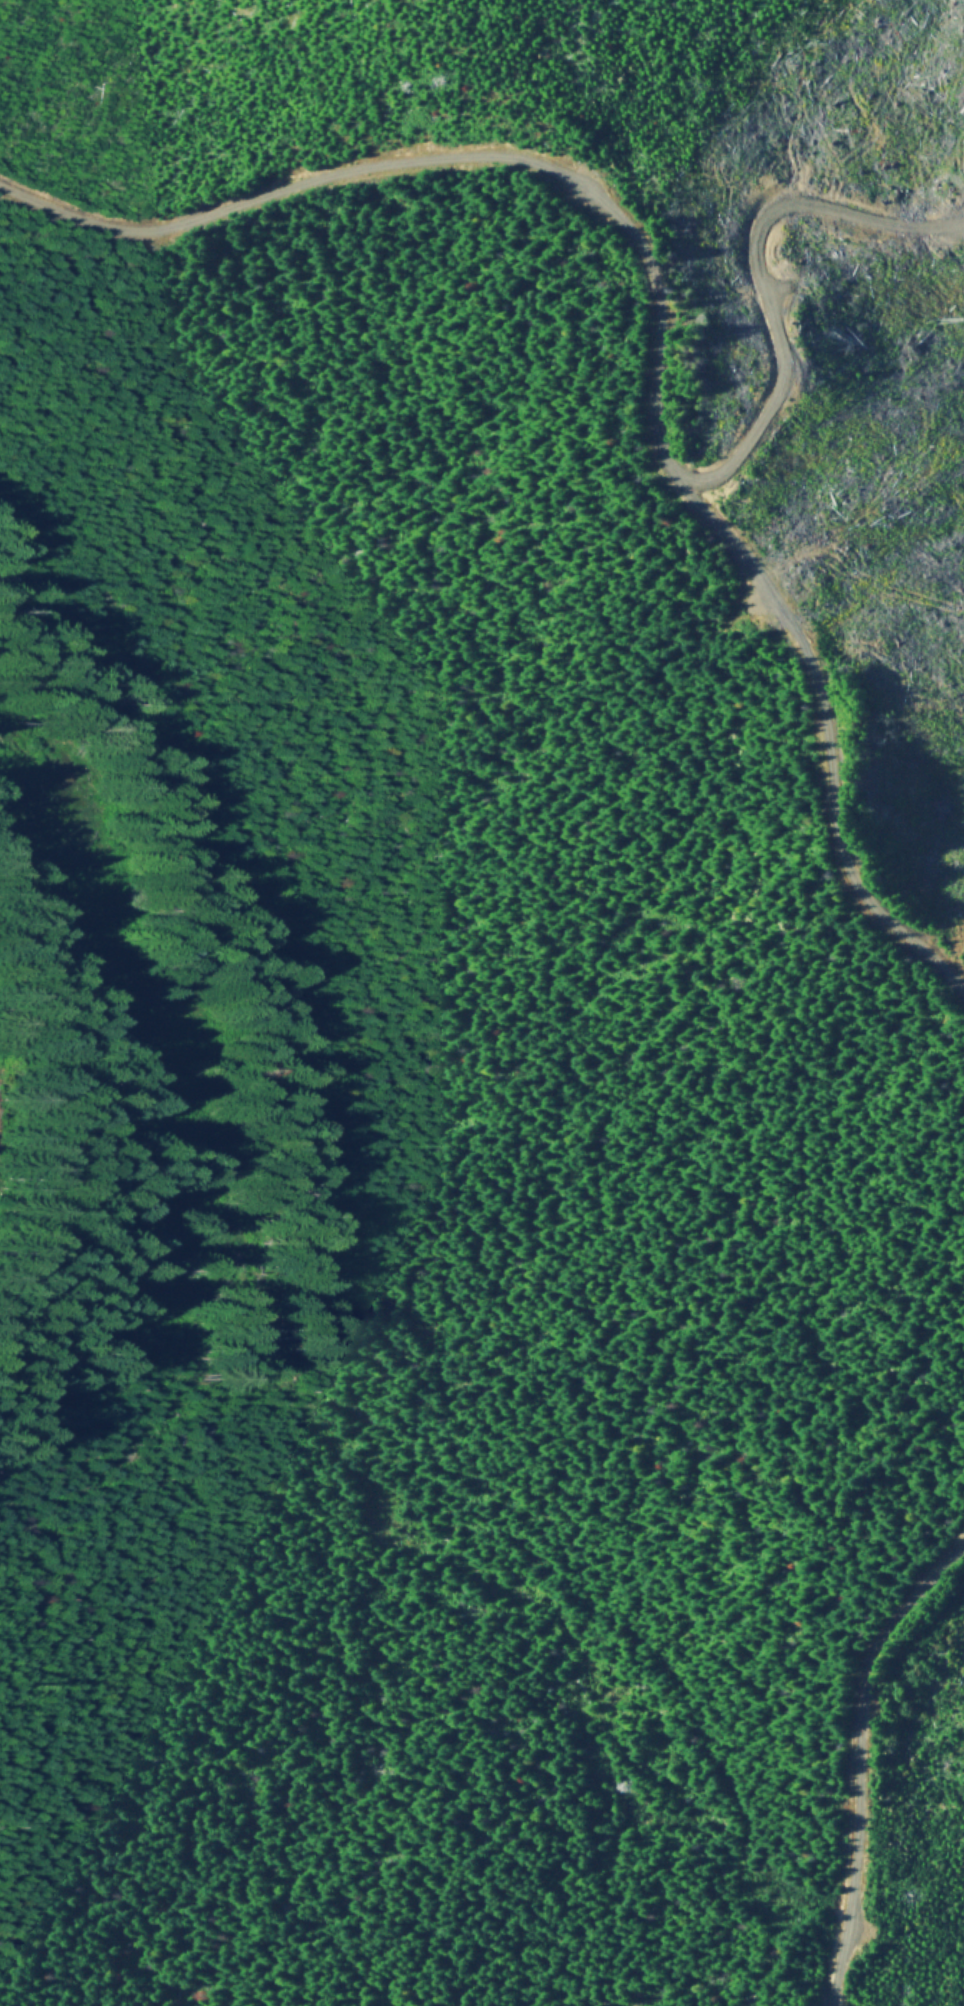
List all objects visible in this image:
road: (659, 316)
road: (507, 1521)
road: (862, 1757)

